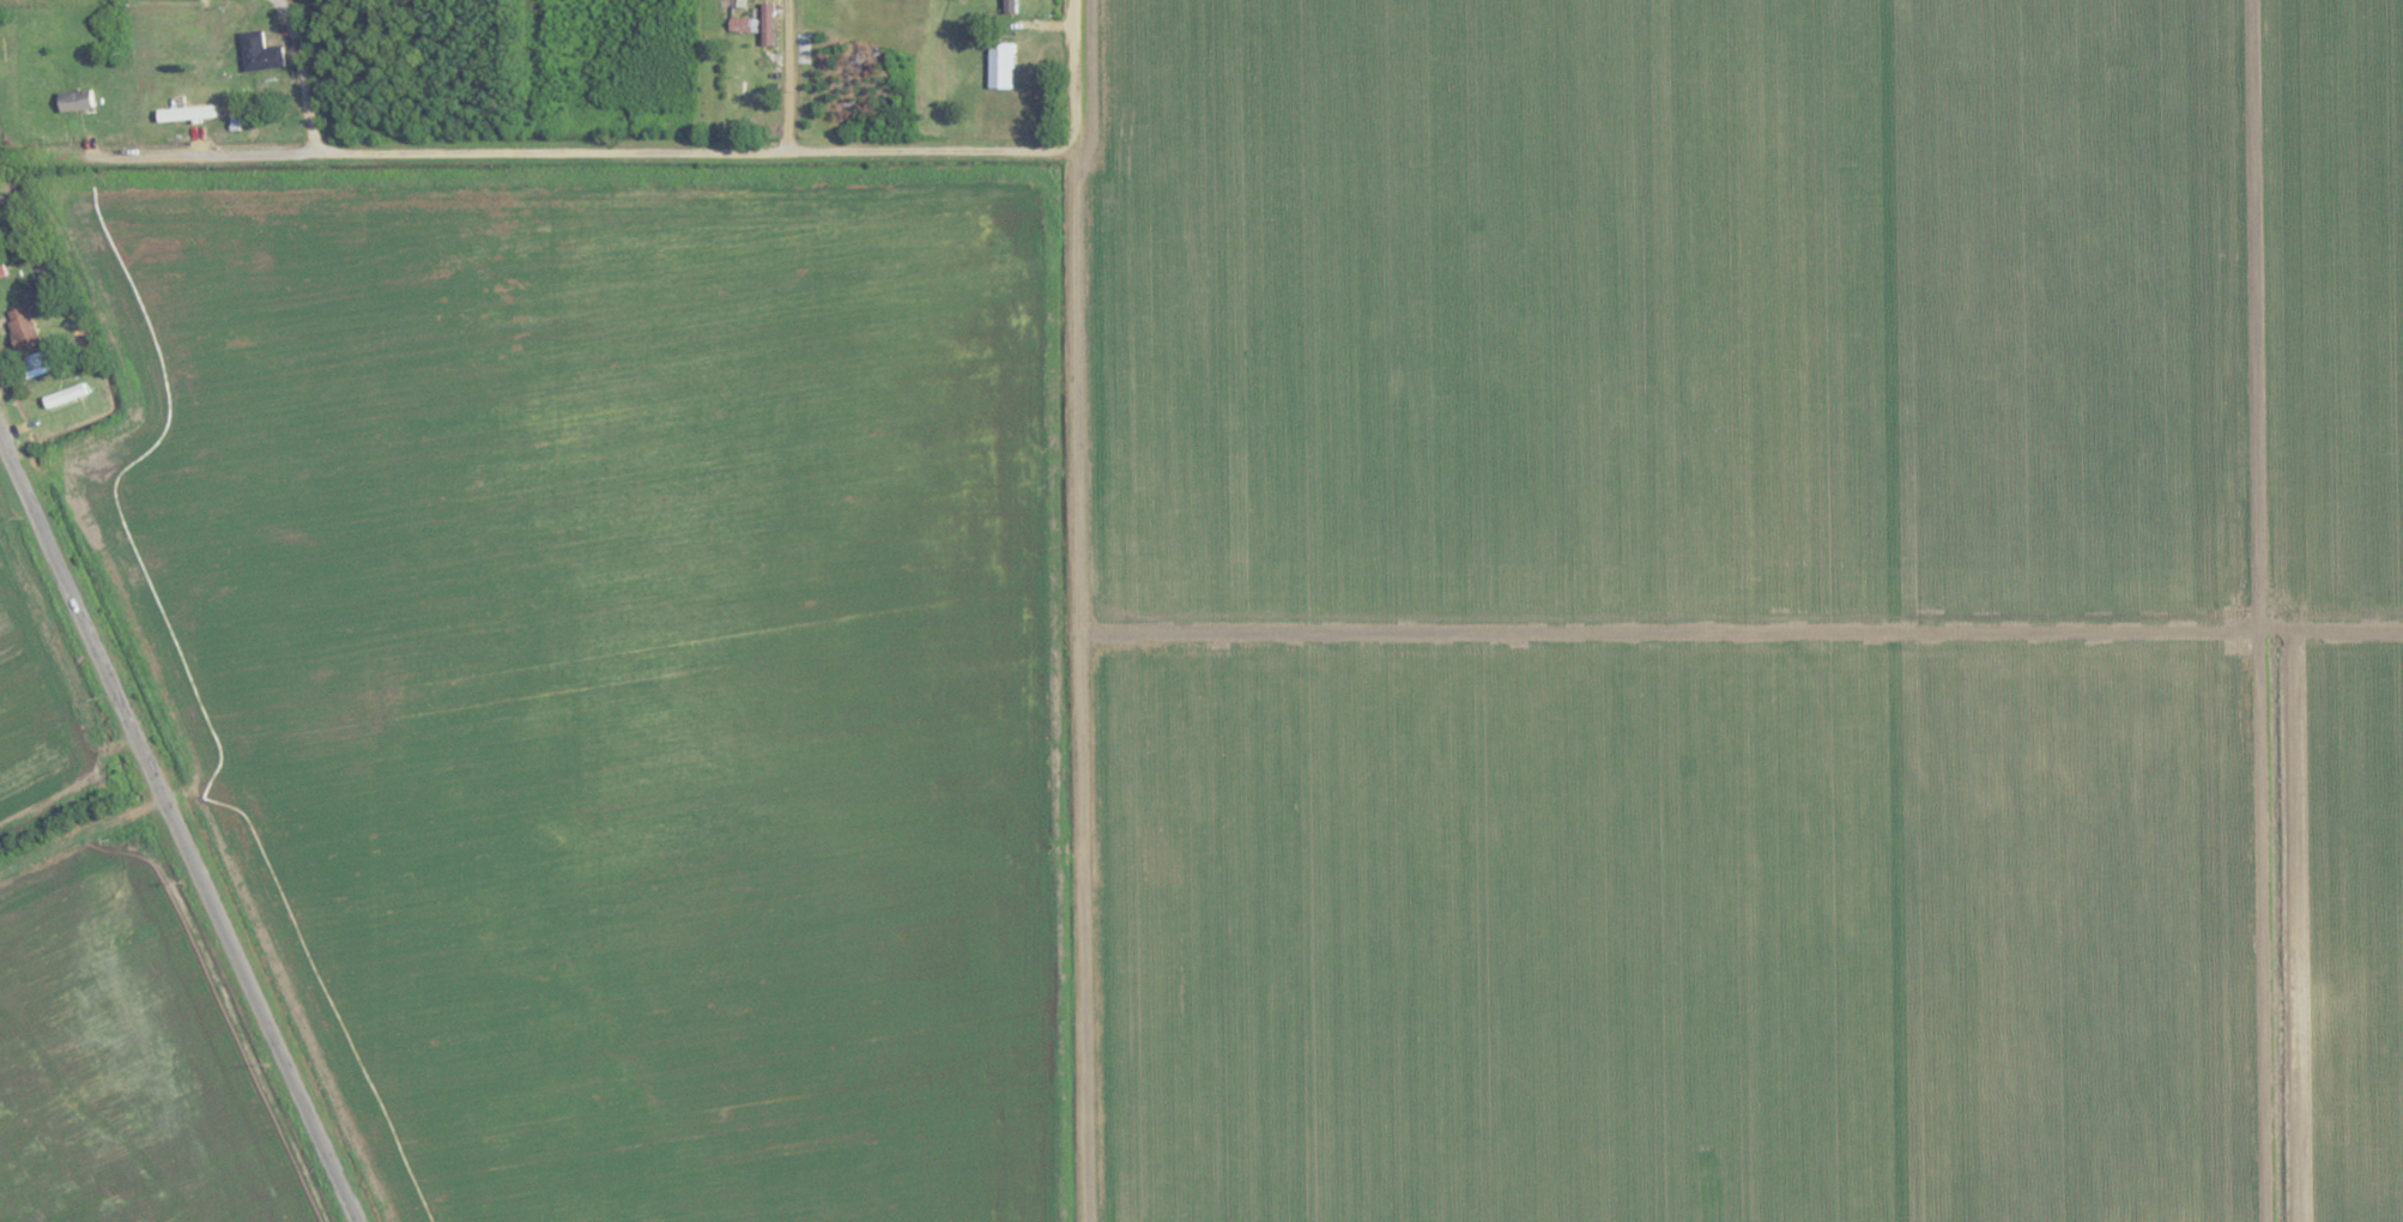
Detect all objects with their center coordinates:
building: (744, 24)
building: (254, 52)
road: (1075, 61)
building: (999, 63)
road: (787, 75)
building: (195, 96)
building: (74, 103)
building: (192, 115)
road: (624, 151)
road: (199, 152)
building: (1, 267)
building: (28, 328)
building: (34, 364)
building: (49, 401)
road: (178, 830)

